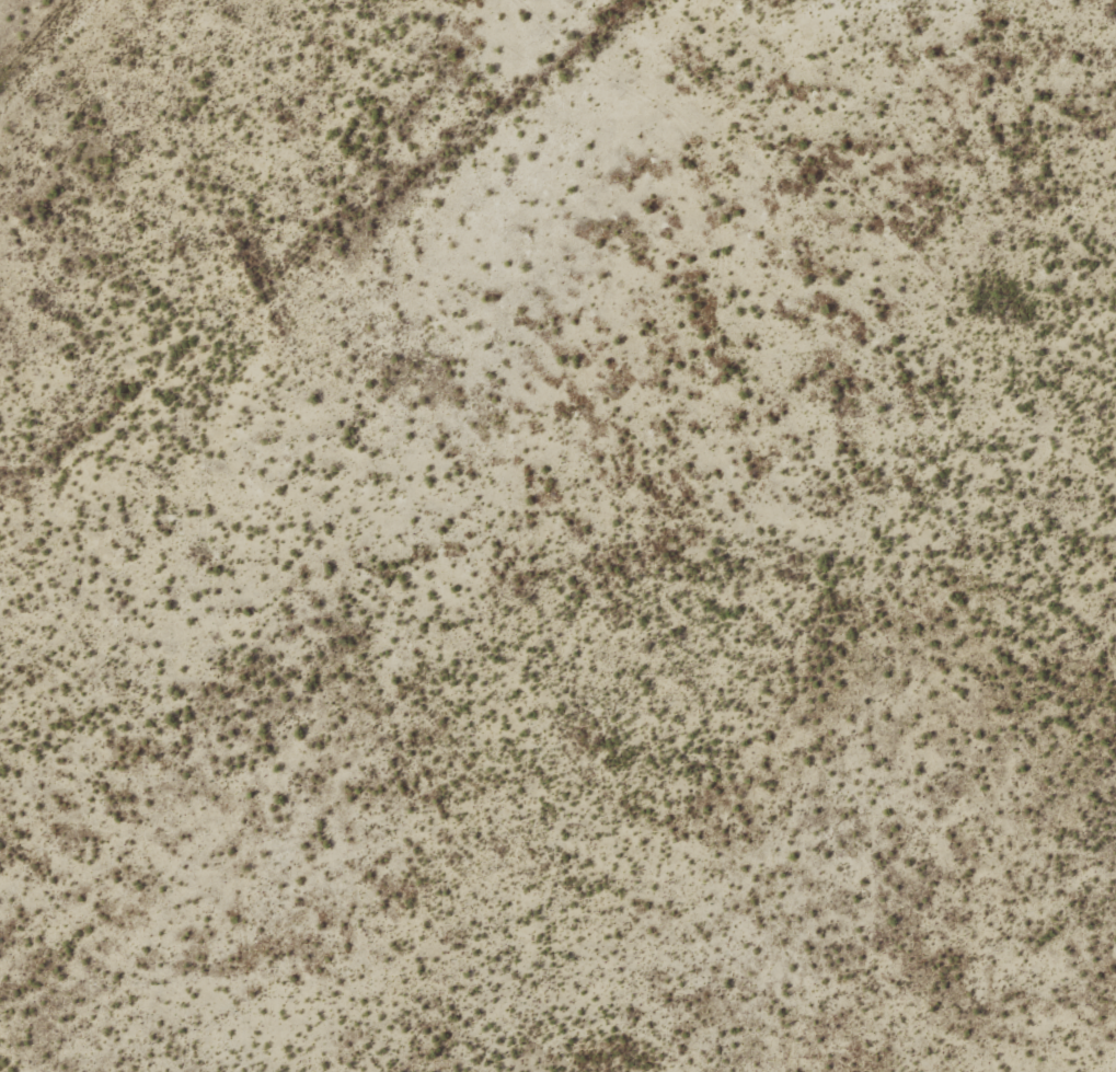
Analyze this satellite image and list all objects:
road: (0, 1070)

